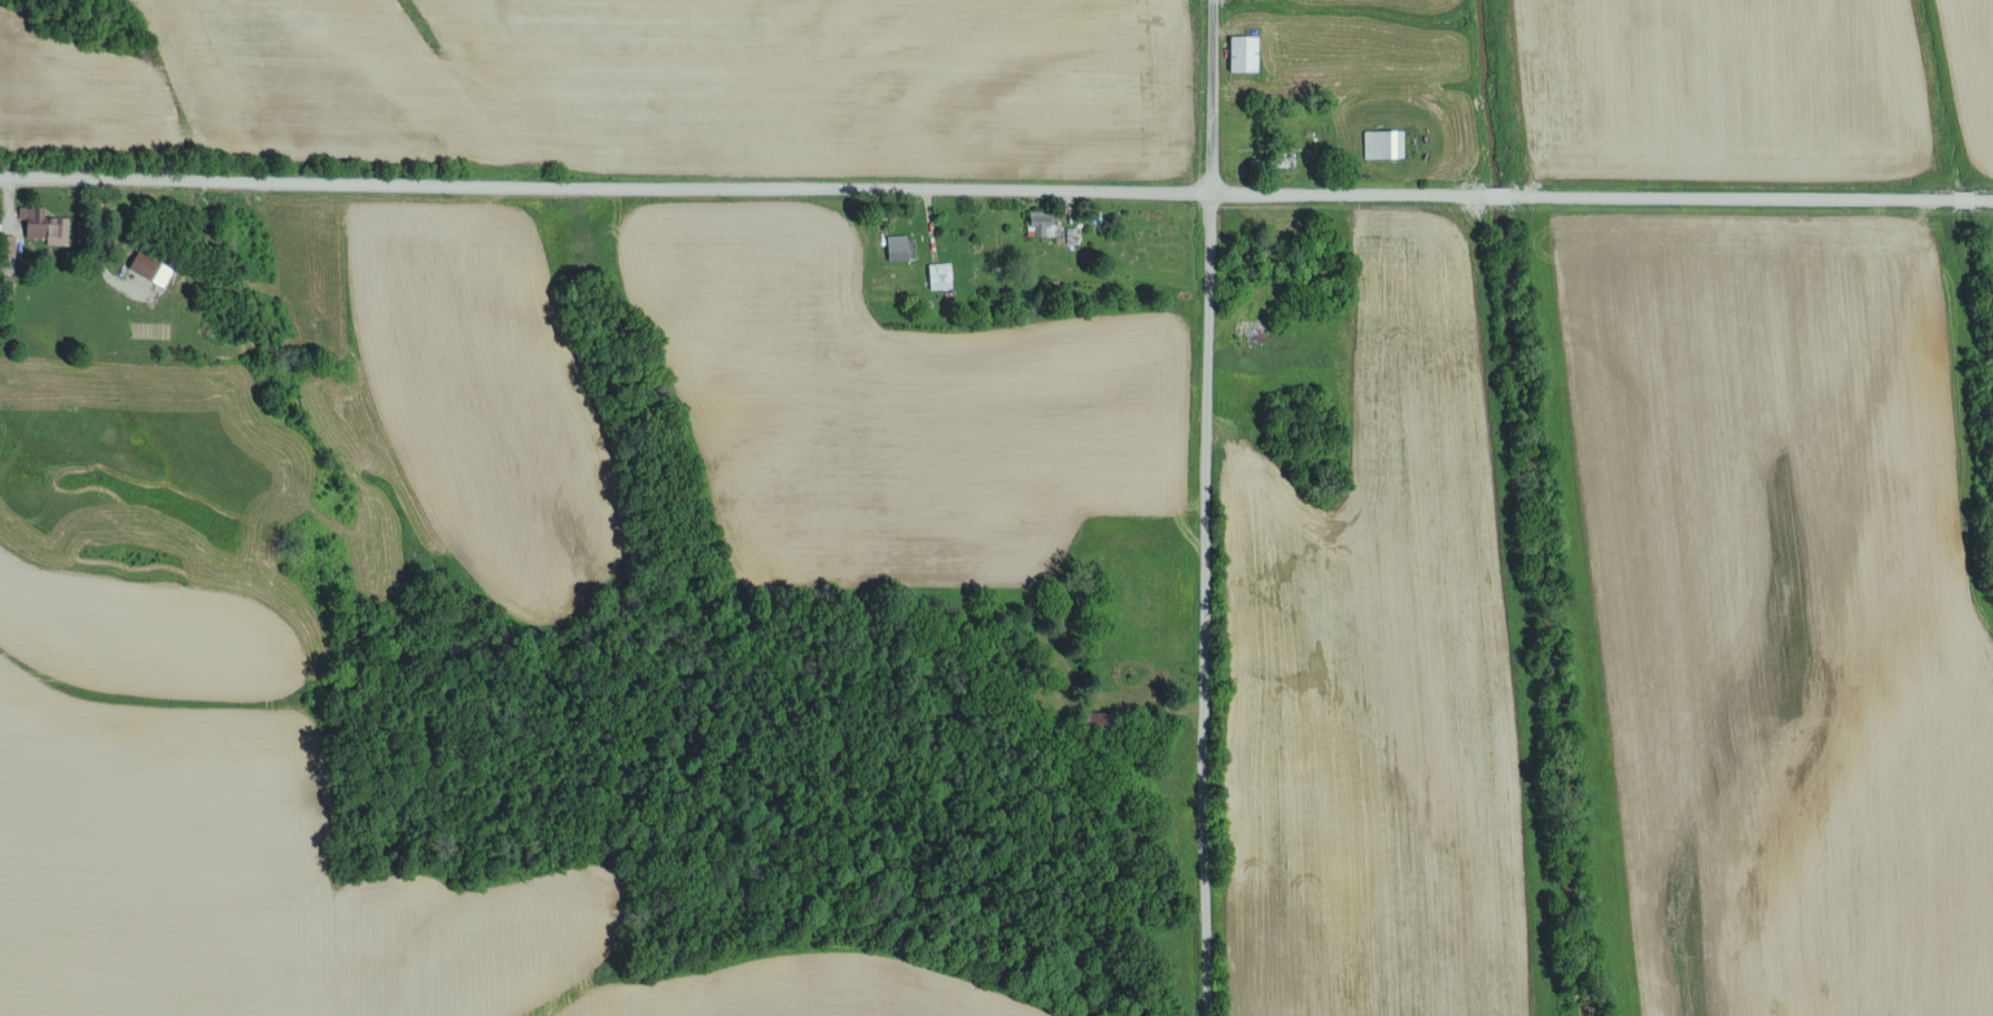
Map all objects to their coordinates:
building: (1240, 53)
building: (1382, 143)
road: (996, 177)
road: (877, 194)
road: (7, 211)
building: (1038, 223)
building: (42, 224)
building: (6, 244)
building: (898, 246)
building: (146, 268)
building: (938, 275)
road: (1199, 508)

